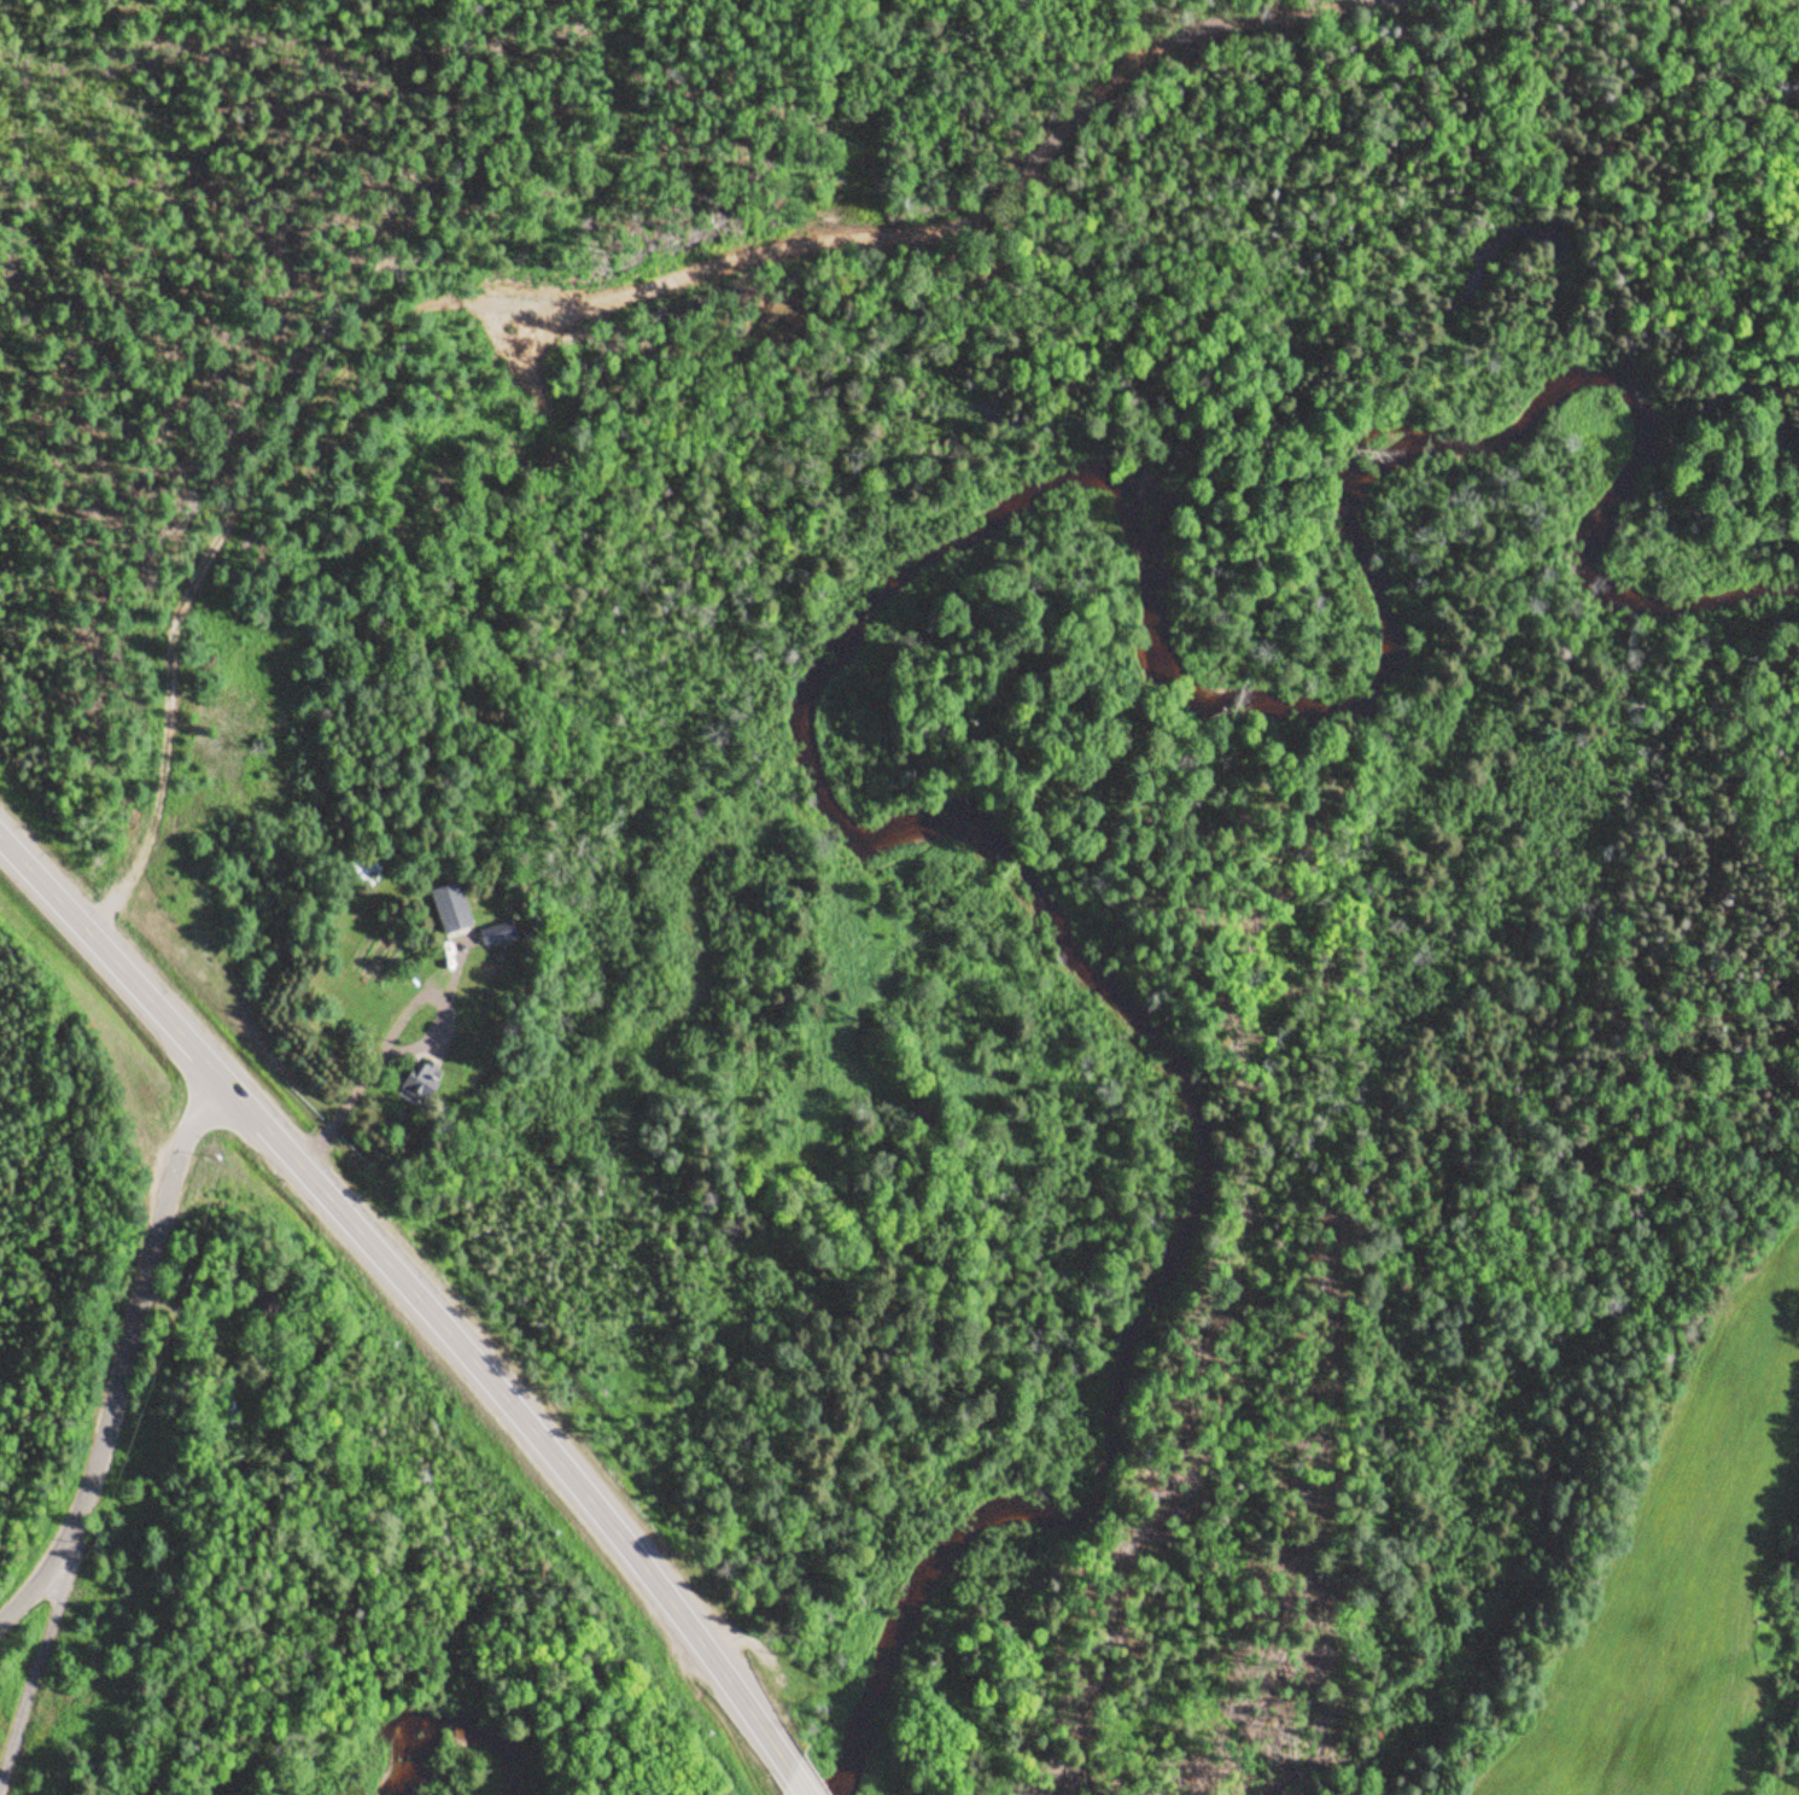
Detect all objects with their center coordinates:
river: (893, 630)
building: (362, 867)
building: (451, 904)
building: (498, 932)
road: (107, 950)
building: (421, 1079)
building: (263, 1296)
road: (127, 1354)
road: (515, 1409)
road: (35, 1666)
river: (449, 1737)
road: (799, 1783)

